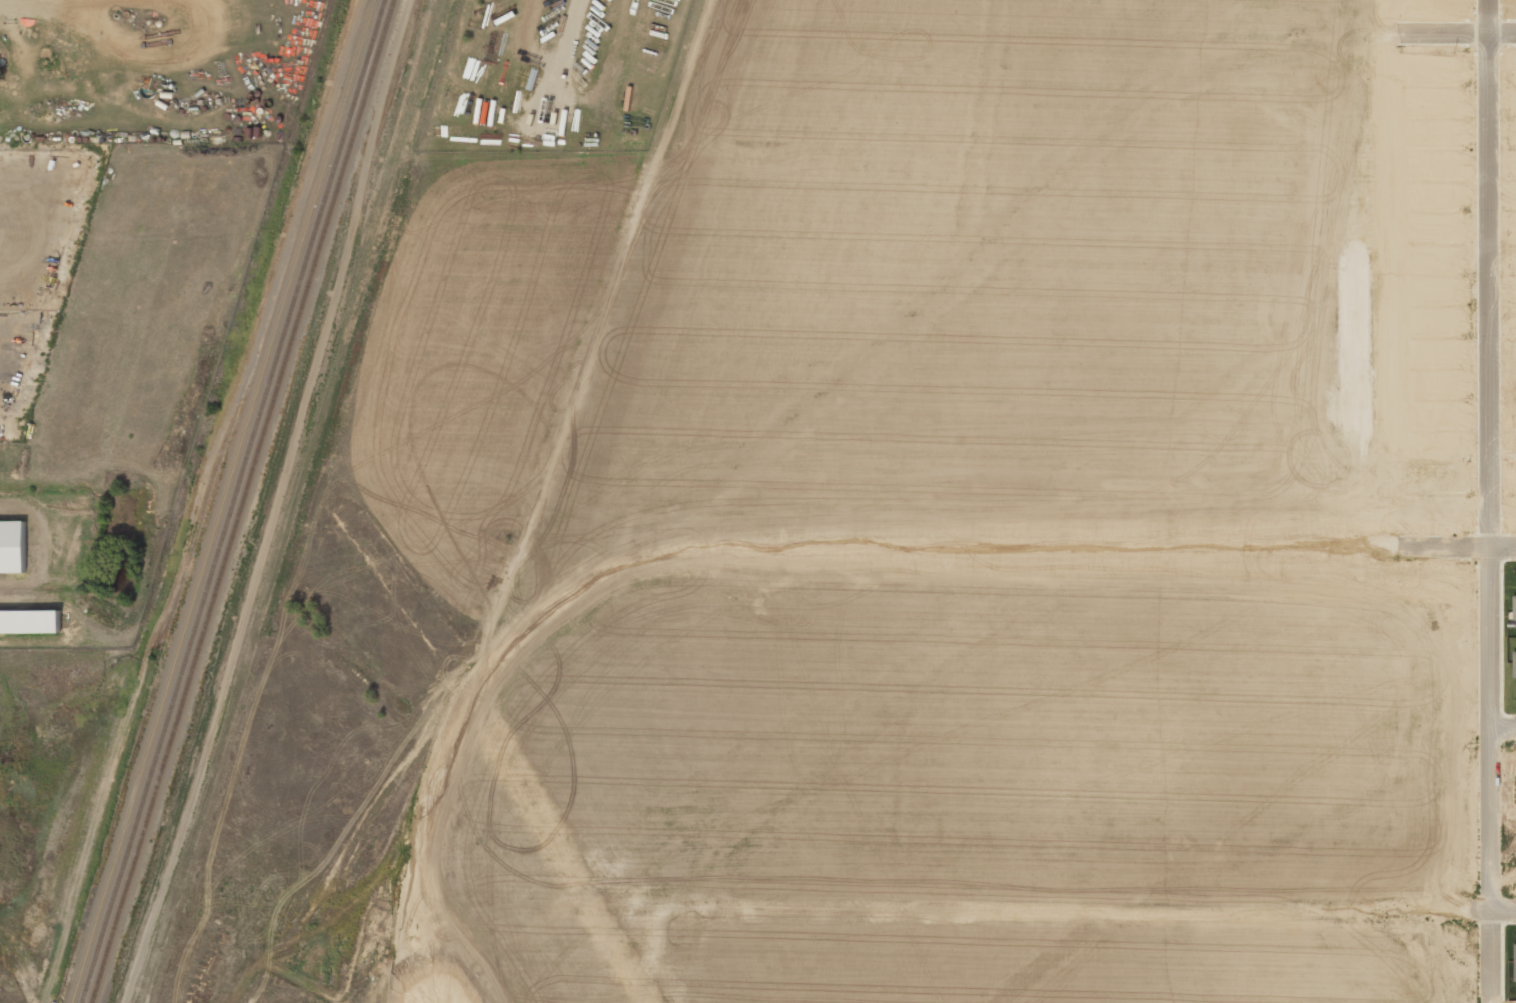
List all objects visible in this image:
road: (1502, 31)
road: (1490, 456)
railway: (225, 501)
railway: (234, 501)
railway: (244, 501)
building: (13, 546)
road: (1503, 548)
building: (30, 621)
road: (1504, 727)
road: (1505, 911)

